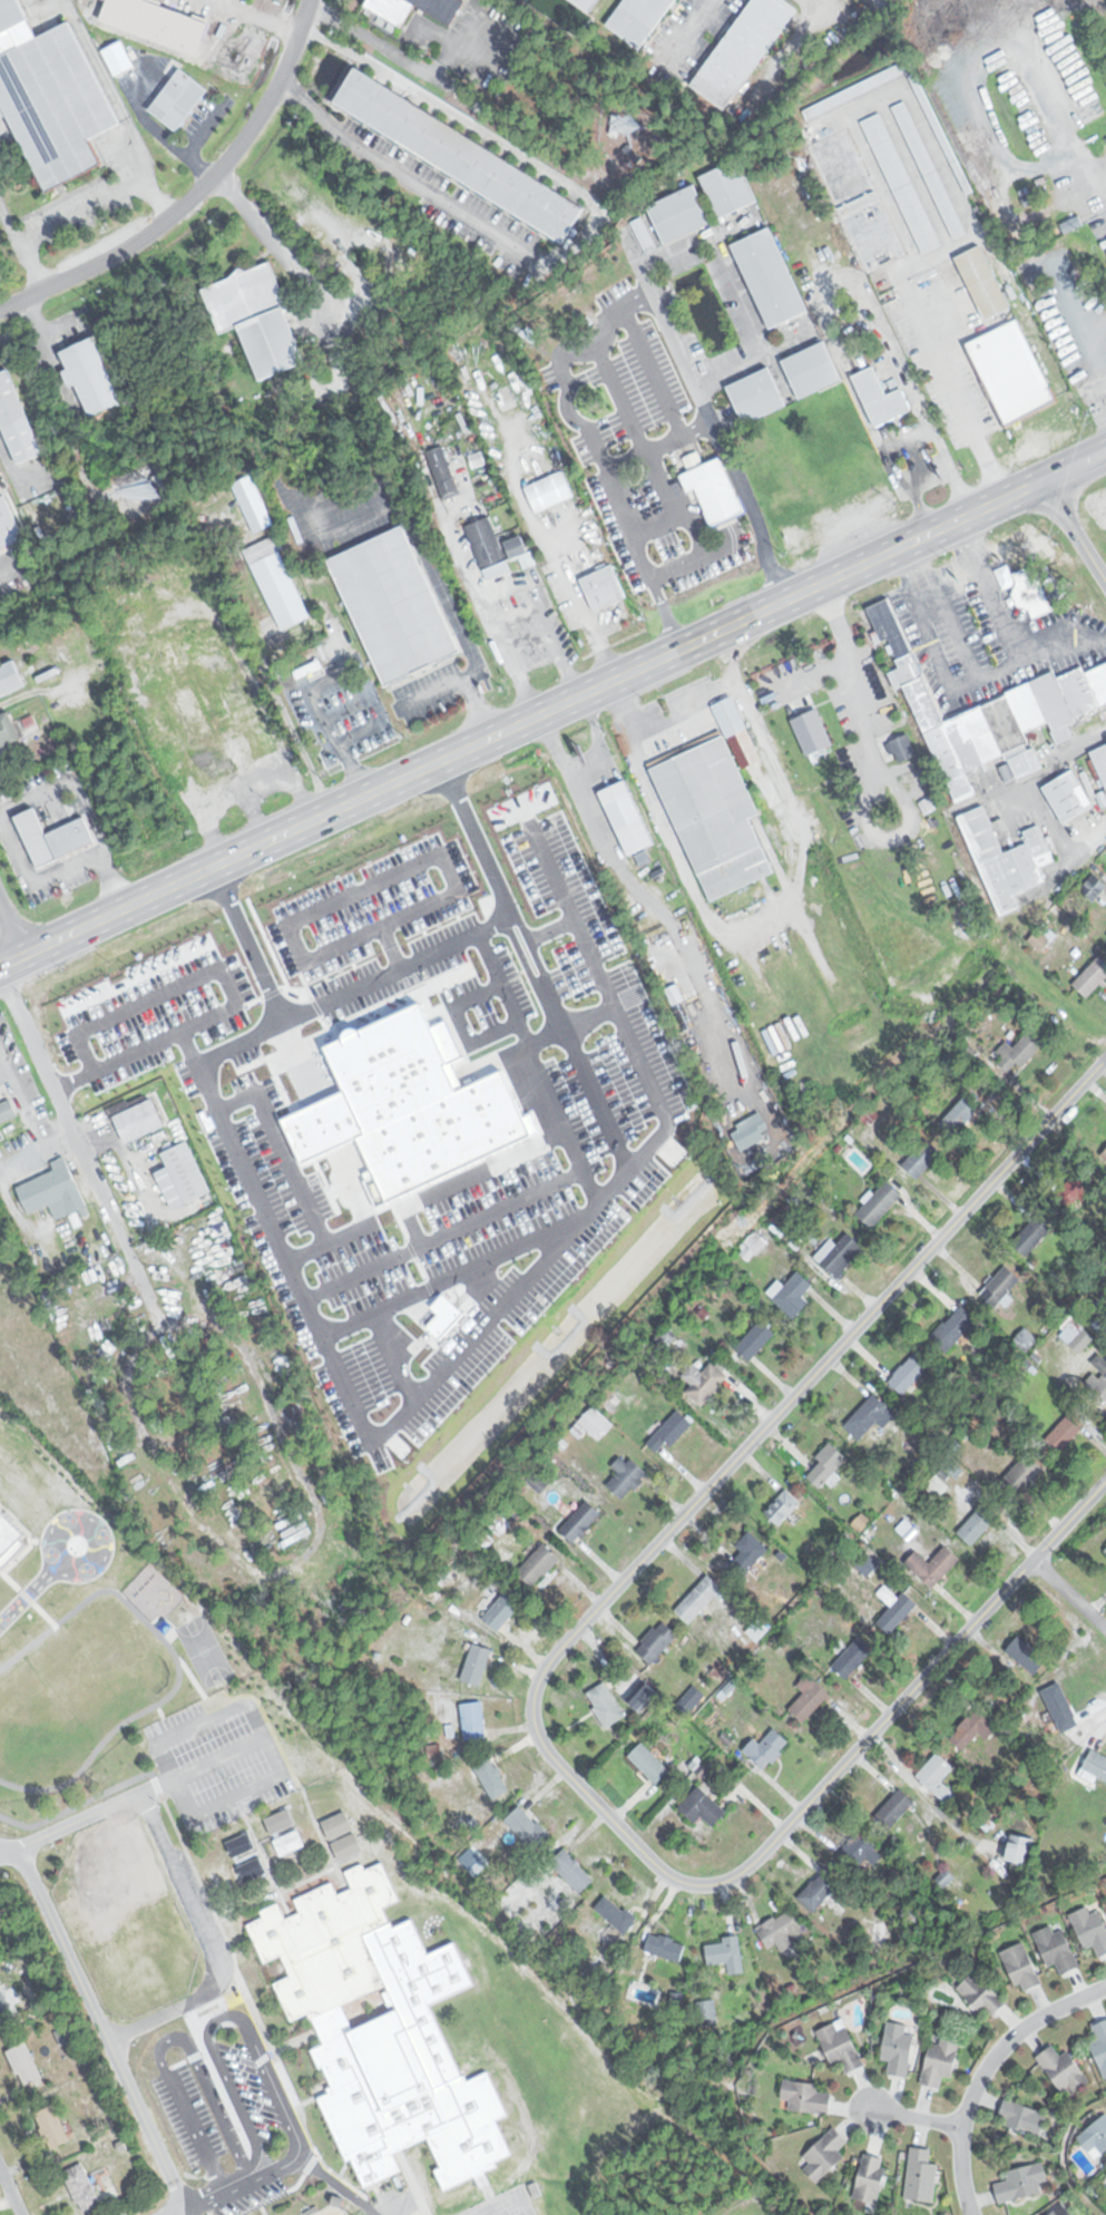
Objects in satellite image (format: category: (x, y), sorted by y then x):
building: (581, 3)
building: (590, 3)
building: (389, 12)
building: (12, 13)
building: (634, 18)
building: (738, 49)
building: (852, 90)
building: (173, 98)
building: (59, 103)
building: (938, 131)
building: (453, 154)
road: (392, 168)
building: (927, 168)
building: (898, 180)
building: (724, 187)
road: (194, 194)
building: (676, 213)
road: (698, 241)
building: (764, 277)
building: (983, 282)
road: (867, 294)
building: (257, 318)
road: (752, 341)
building: (808, 369)
road: (652, 372)
building: (1011, 373)
building: (90, 377)
road: (952, 389)
building: (752, 394)
building: (875, 396)
building: (505, 397)
road: (708, 412)
road: (572, 414)
building: (16, 421)
road: (643, 450)
road: (884, 453)
road: (920, 470)
building: (443, 472)
building: (619, 481)
building: (707, 490)
building: (549, 491)
building: (252, 504)
road: (922, 511)
building: (8, 524)
road: (656, 527)
road: (1073, 529)
building: (517, 547)
building: (488, 548)
building: (652, 553)
road: (420, 556)
road: (647, 572)
road: (953, 575)
building: (273, 582)
building: (603, 587)
road: (991, 588)
building: (389, 603)
building: (131, 608)
road: (664, 614)
road: (952, 624)
building: (78, 636)
building: (32, 647)
building: (211, 662)
building: (170, 664)
building: (10, 680)
building: (868, 681)
road: (315, 684)
road: (957, 689)
building: (235, 690)
road: (477, 708)
road: (552, 708)
building: (987, 712)
building: (194, 715)
road: (659, 721)
building: (808, 722)
building: (8, 730)
building: (902, 748)
building: (219, 759)
building: (1098, 763)
road: (1032, 783)
building: (1068, 796)
building: (713, 806)
building: (621, 816)
building: (47, 835)
building: (1000, 859)
road: (683, 861)
road: (1075, 867)
building: (1097, 886)
road: (8, 935)
building: (1092, 977)
building: (94, 1011)
building: (1020, 1053)
building: (6, 1111)
building: (962, 1114)
building: (140, 1116)
building: (750, 1131)
road: (78, 1149)
building: (1105, 1152)
building: (922, 1158)
building: (188, 1171)
building: (52, 1190)
building: (880, 1203)
building: (784, 1218)
building: (1032, 1235)
building: (840, 1253)
building: (1001, 1286)
building: (793, 1295)
building: (956, 1327)
building: (1077, 1335)
building: (754, 1339)
building: (910, 1373)
building: (704, 1379)
building: (1102, 1380)
building: (870, 1416)
building: (596, 1423)
building: (669, 1431)
building: (1066, 1431)
building: (826, 1463)
building: (1027, 1472)
building: (626, 1475)
building: (782, 1506)
building: (580, 1521)
building: (980, 1523)
building: (11, 1532)
building: (748, 1553)
building: (538, 1564)
building: (933, 1565)
road: (275, 1567)
road: (1067, 1596)
building: (699, 1600)
building: (502, 1610)
building: (895, 1610)
building: (657, 1642)
building: (162, 1643)
building: (1027, 1655)
building: (853, 1658)
building: (476, 1665)
building: (150, 1671)
building: (178, 1688)
road: (535, 1689)
building: (644, 1697)
building: (146, 1699)
building: (810, 1700)
building: (606, 1705)
building: (1061, 1707)
building: (473, 1721)
building: (976, 1728)
building: (767, 1748)
building: (649, 1764)
building: (1095, 1766)
building: (938, 1777)
building: (491, 1778)
building: (702, 1807)
building: (895, 1808)
road: (92, 1812)
building: (281, 1821)
building: (527, 1827)
building: (343, 1835)
building: (290, 1842)
building: (1020, 1850)
building: (864, 1851)
road: (7, 1852)
building: (572, 1871)
building: (820, 1889)
road: (185, 1893)
building: (615, 1913)
building: (1090, 1929)
building: (782, 1930)
building: (665, 1948)
building: (1057, 1950)
building: (725, 1954)
building: (1021, 1968)
building: (982, 1996)
building: (4, 2006)
building: (707, 2010)
road: (97, 2021)
building: (384, 2031)
building: (1100, 2045)
building: (841, 2046)
building: (898, 2049)
building: (940, 2060)
building: (23, 2062)
road: (985, 2070)
building: (1064, 2070)
building: (804, 2096)
building: (1022, 2116)
road: (916, 2118)
building: (51, 2126)
road: (294, 2133)
building: (1096, 2137)
building: (825, 2154)
building: (920, 2175)
building: (871, 2177)
building: (1105, 2180)
building: (1022, 2182)
road: (334, 2183)
building: (81, 2186)
road: (9, 2194)
park: (331, 2211)
building: (1061, 2211)
road: (167, 2212)

